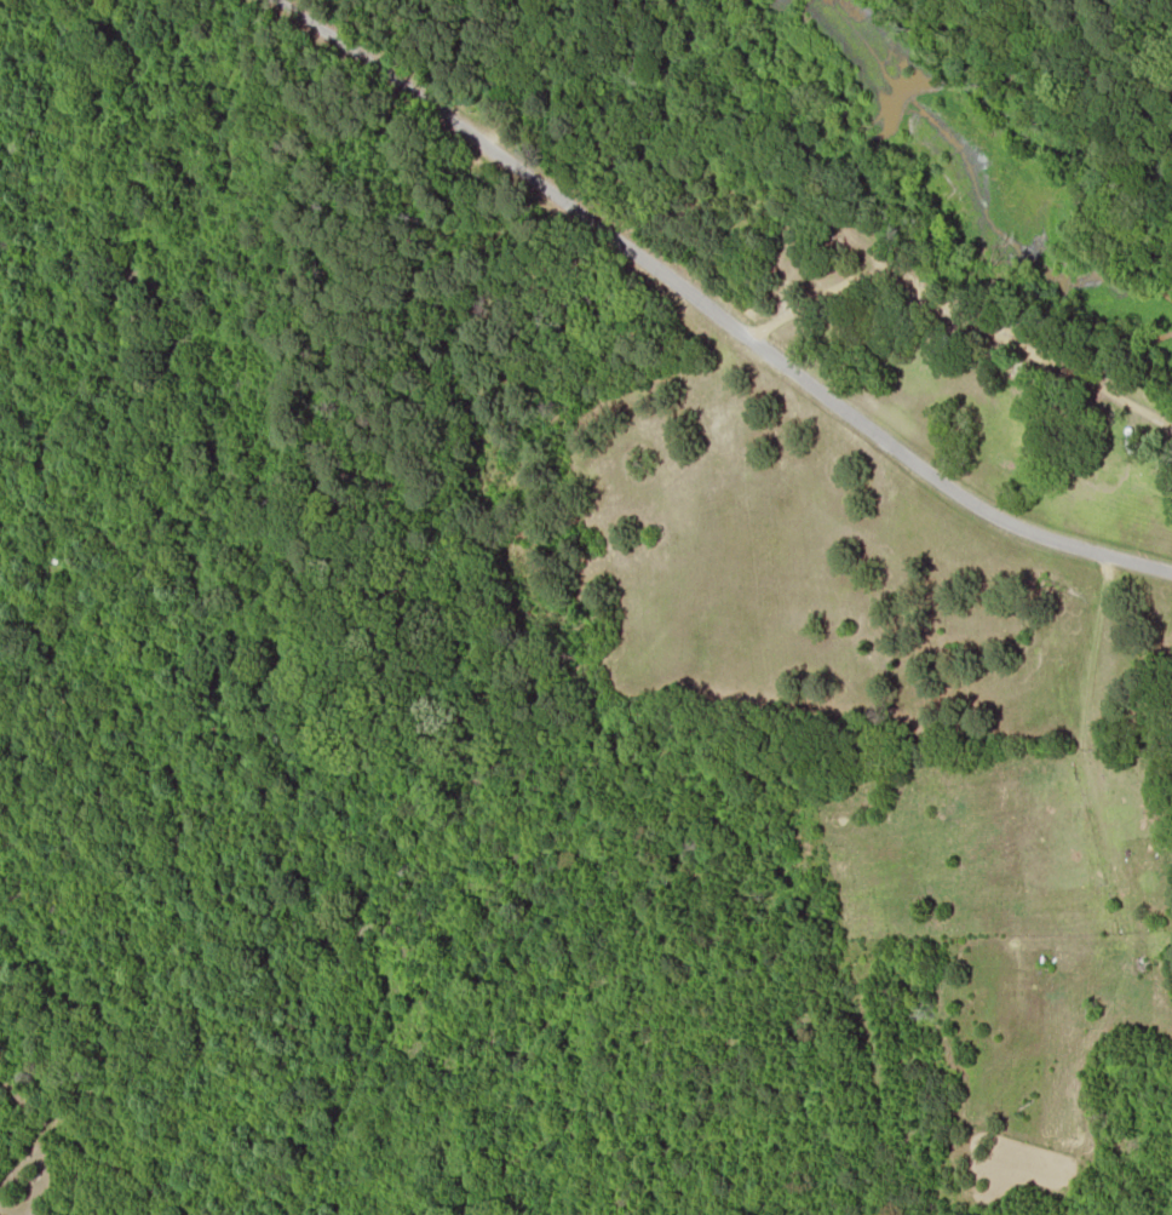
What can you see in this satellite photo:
road: (505, 161)
road: (495, 332)
road: (937, 476)

